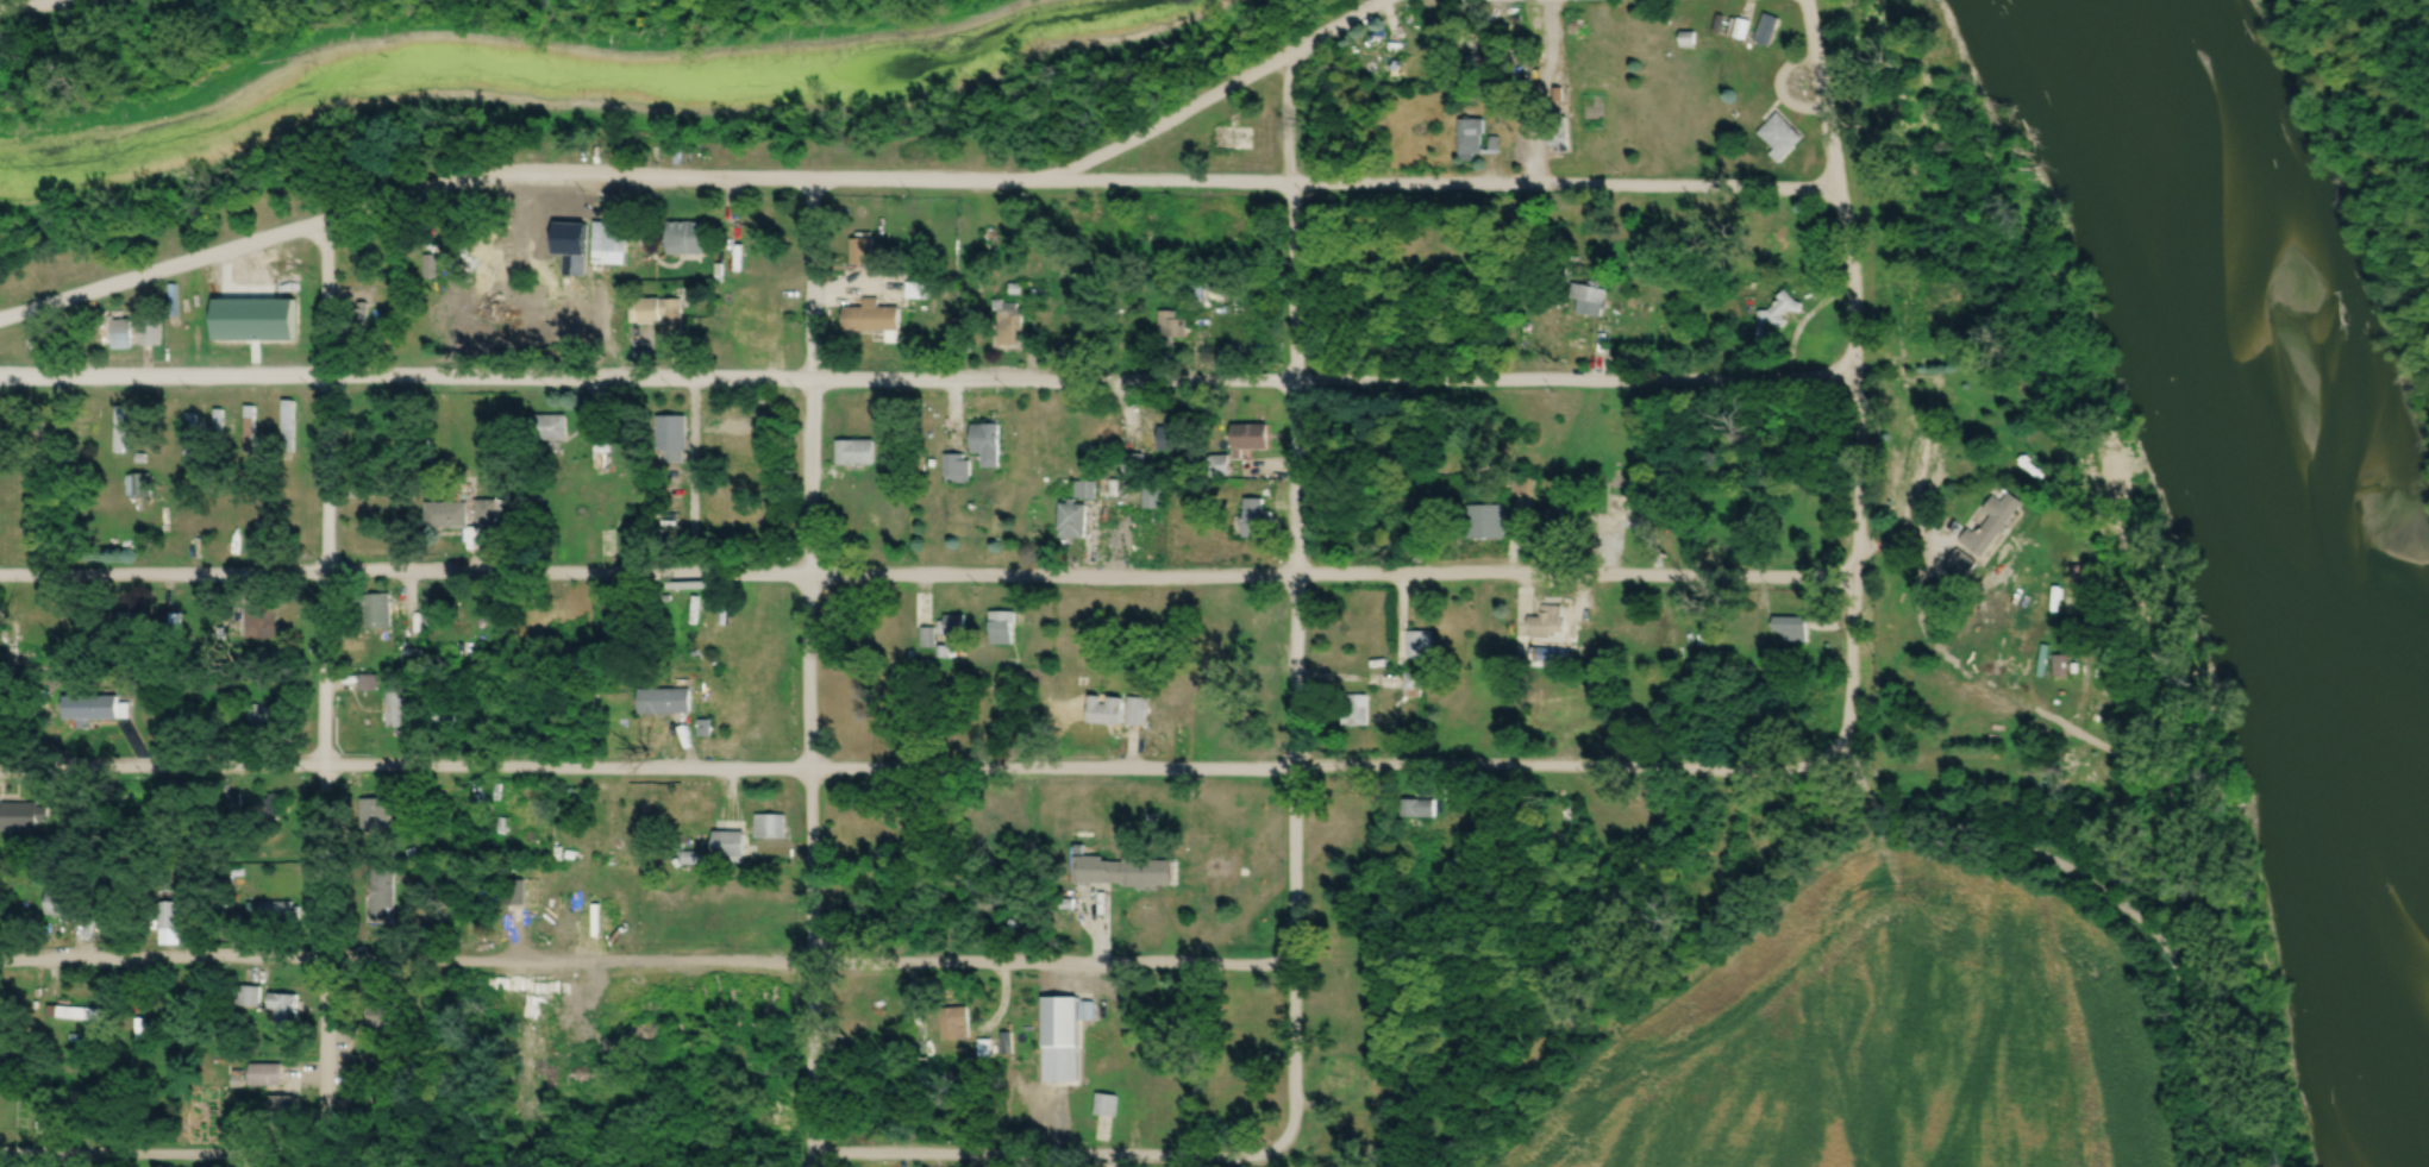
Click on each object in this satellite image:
road: (38, 5)
building: (1759, 31)
building: (1379, 55)
building: (1782, 138)
building: (1471, 139)
road: (1156, 178)
road: (1564, 178)
road: (701, 181)
building: (540, 227)
building: (998, 234)
building: (687, 239)
building: (612, 244)
building: (863, 252)
building: (920, 291)
building: (1590, 300)
building: (1776, 318)
building: (665, 319)
building: (875, 319)
building: (1010, 325)
building: (1172, 326)
building: (757, 330)
building: (117, 332)
building: (152, 333)
road: (1854, 374)
road: (927, 378)
building: (289, 425)
building: (219, 429)
building: (251, 429)
building: (550, 429)
building: (120, 431)
building: (149, 431)
building: (192, 438)
building: (1252, 438)
building: (1173, 439)
building: (671, 440)
building: (988, 445)
building: (602, 448)
building: (857, 453)
building: (1133, 465)
building: (957, 469)
building: (1223, 469)
building: (139, 485)
building: (1154, 497)
building: (580, 507)
river: (2316, 508)
building: (490, 513)
building: (447, 515)
building: (1258, 520)
building: (1567, 520)
building: (1075, 522)
building: (1486, 522)
building: (1993, 525)
building: (1519, 531)
road: (926, 571)
building: (2084, 582)
road: (1296, 606)
building: (377, 610)
building: (136, 622)
building: (544, 622)
building: (954, 623)
building: (1548, 625)
building: (263, 626)
building: (1002, 628)
building: (1793, 629)
building: (1258, 630)
building: (928, 638)
building: (1421, 645)
building: (412, 659)
building: (1239, 671)
road: (809, 675)
building: (369, 682)
building: (1414, 685)
road: (326, 694)
building: (666, 701)
building: (397, 708)
building: (1107, 710)
building: (1356, 710)
building: (1138, 711)
building: (1566, 713)
building: (264, 717)
building: (451, 719)
road: (921, 768)
building: (265, 807)
building: (381, 808)
building: (1419, 808)
building: (20, 817)
building: (771, 827)
building: (730, 845)
building: (1128, 872)
road: (2105, 890)
building: (387, 893)
building: (63, 904)
building: (281, 914)
building: (170, 916)
road: (646, 960)
building: (249, 998)
building: (284, 1010)
building: (1109, 1011)
building: (75, 1014)
building: (1063, 1041)
building: (1340, 1077)
building: (277, 1086)
building: (1160, 1113)
building: (1247, 1116)
road: (161, 1153)
road: (1060, 1153)

